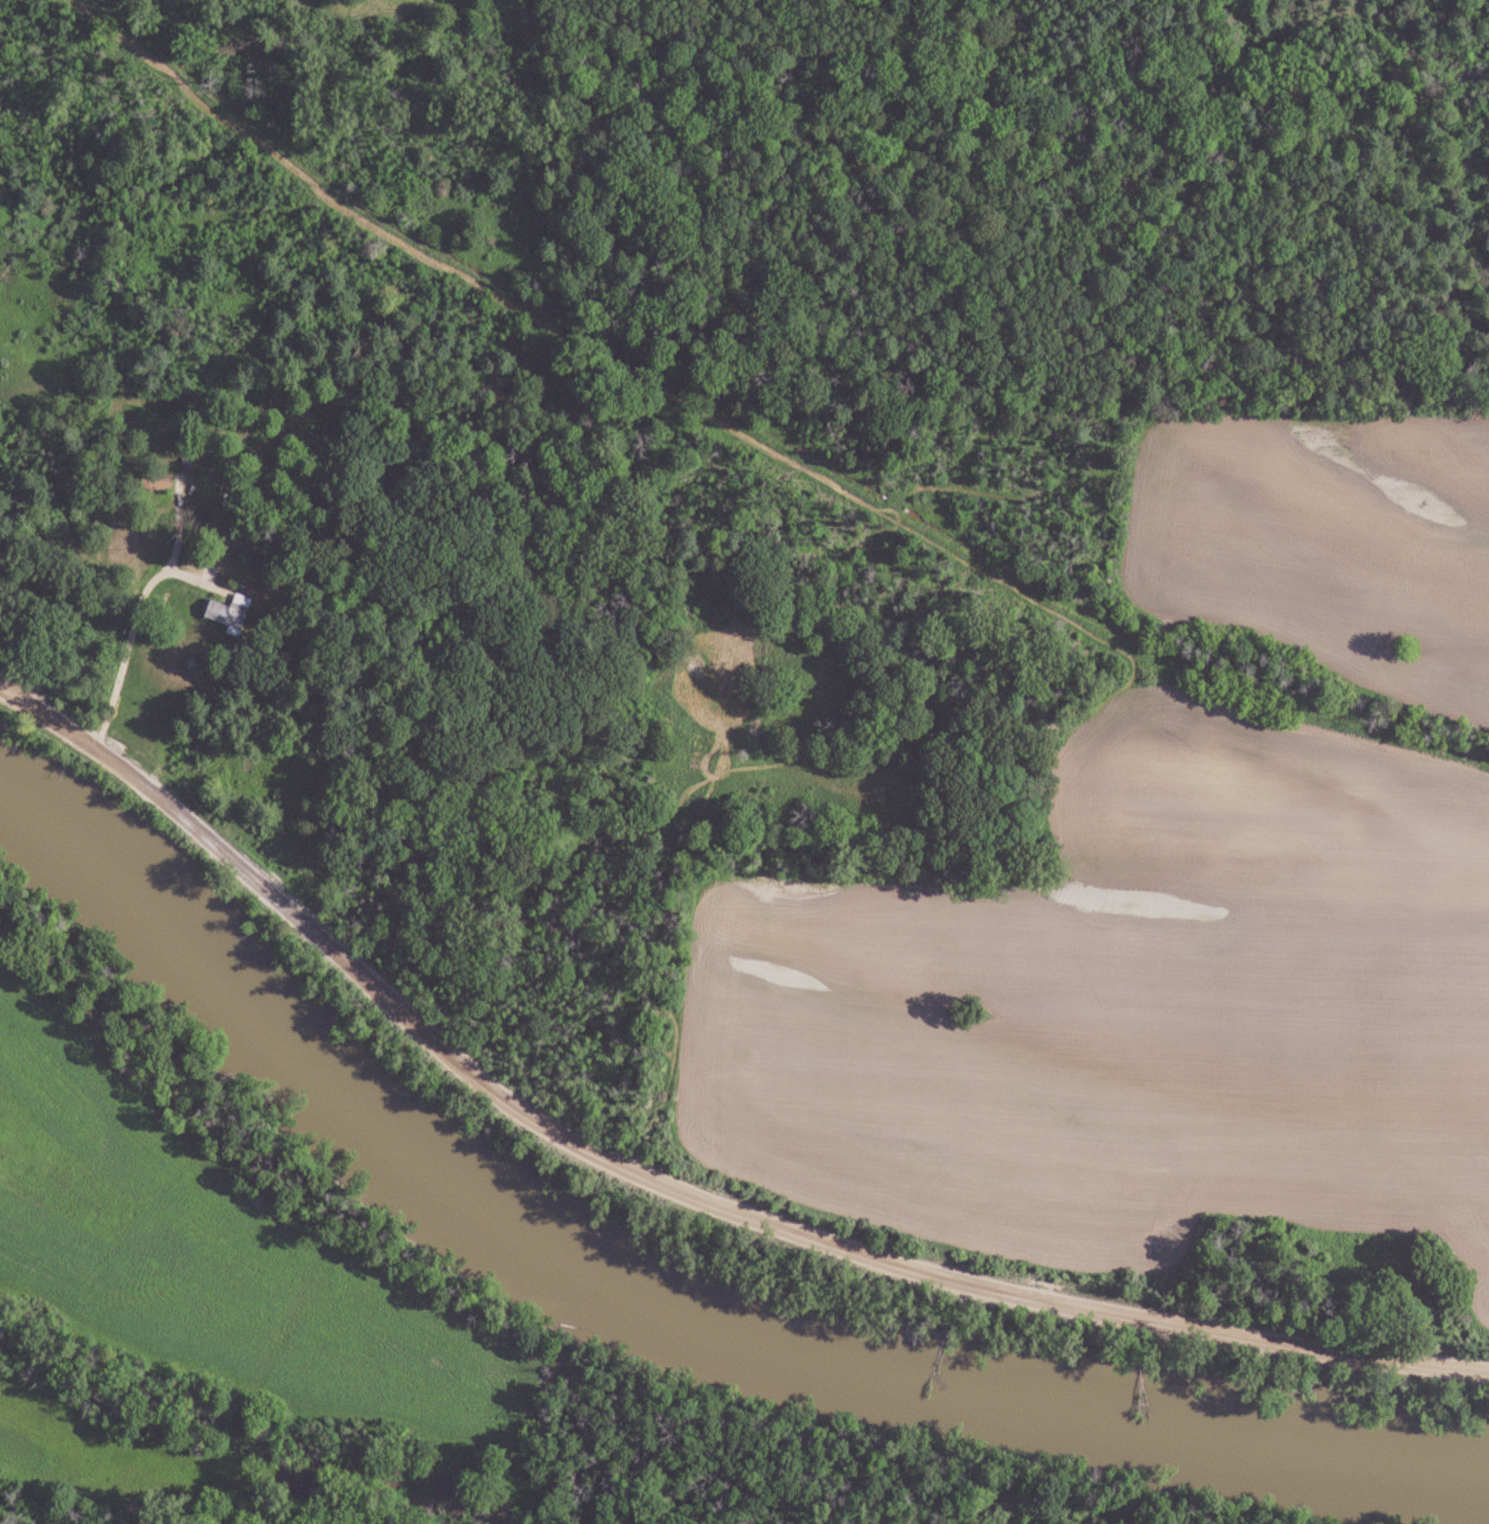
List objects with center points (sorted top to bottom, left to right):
road: (464, 282)
building: (160, 482)
road: (837, 555)
building: (235, 613)
road: (123, 660)
road: (670, 1189)
river: (660, 1314)
road: (520, 1363)

